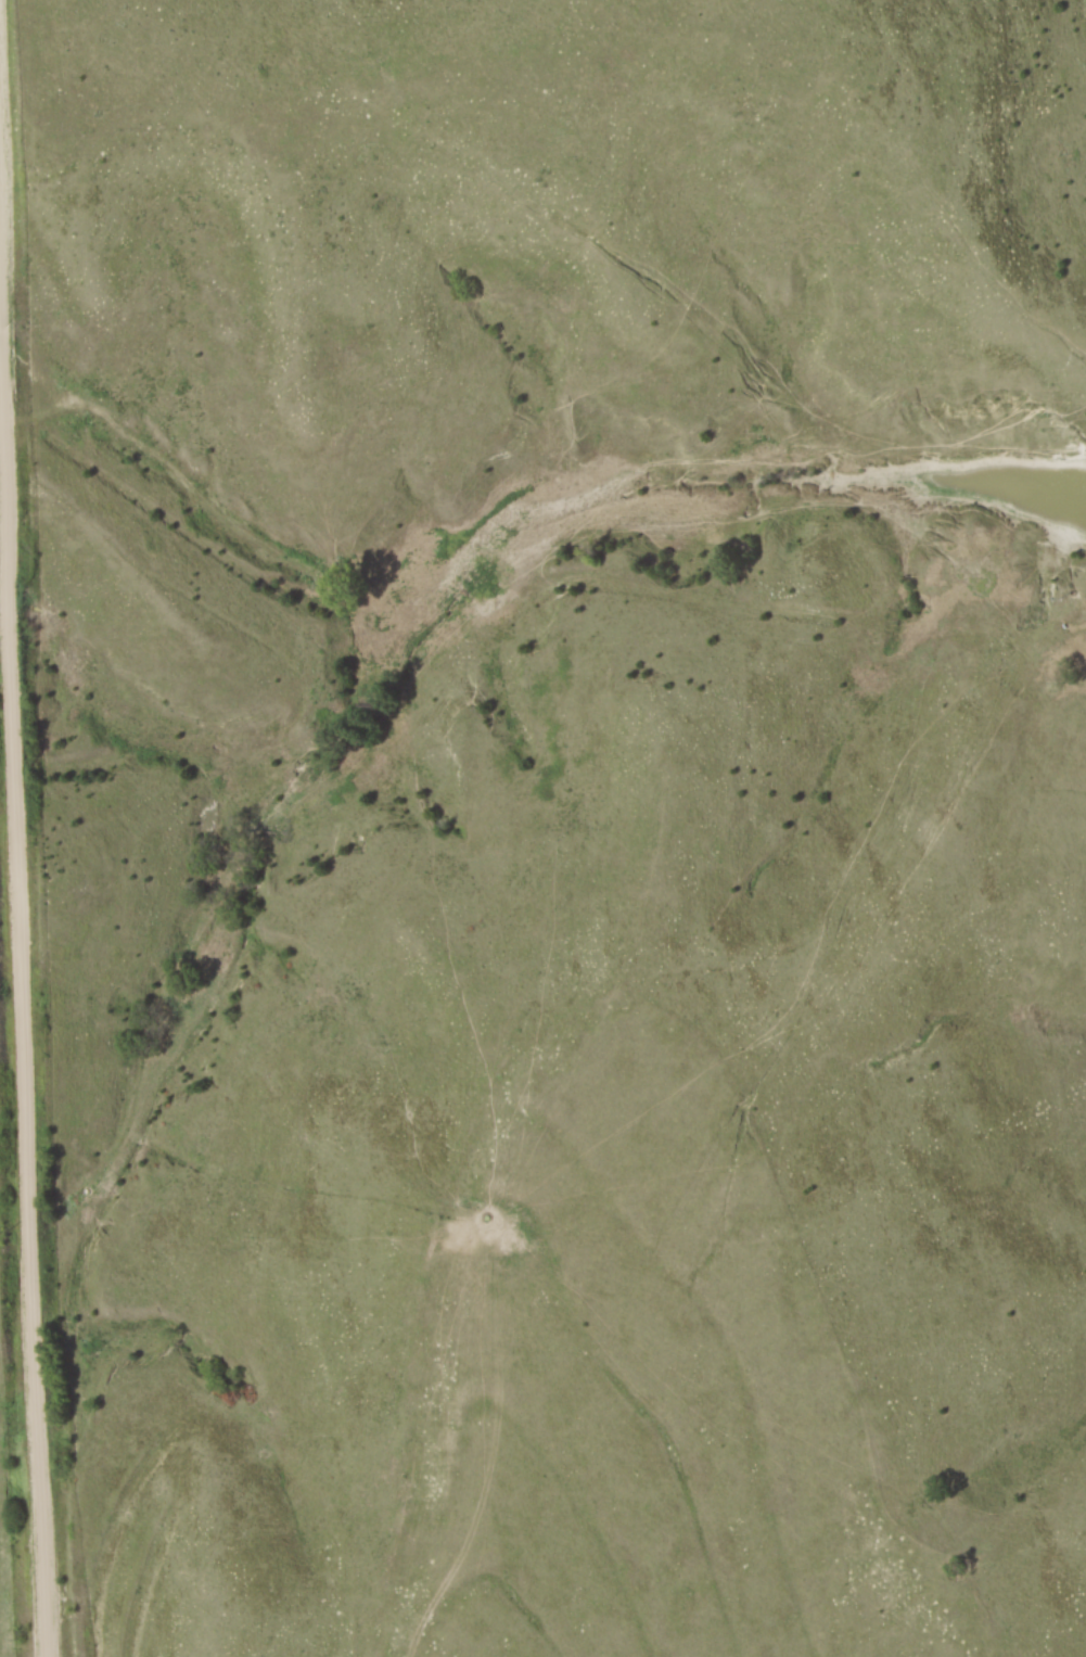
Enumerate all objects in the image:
road: (21, 1010)

